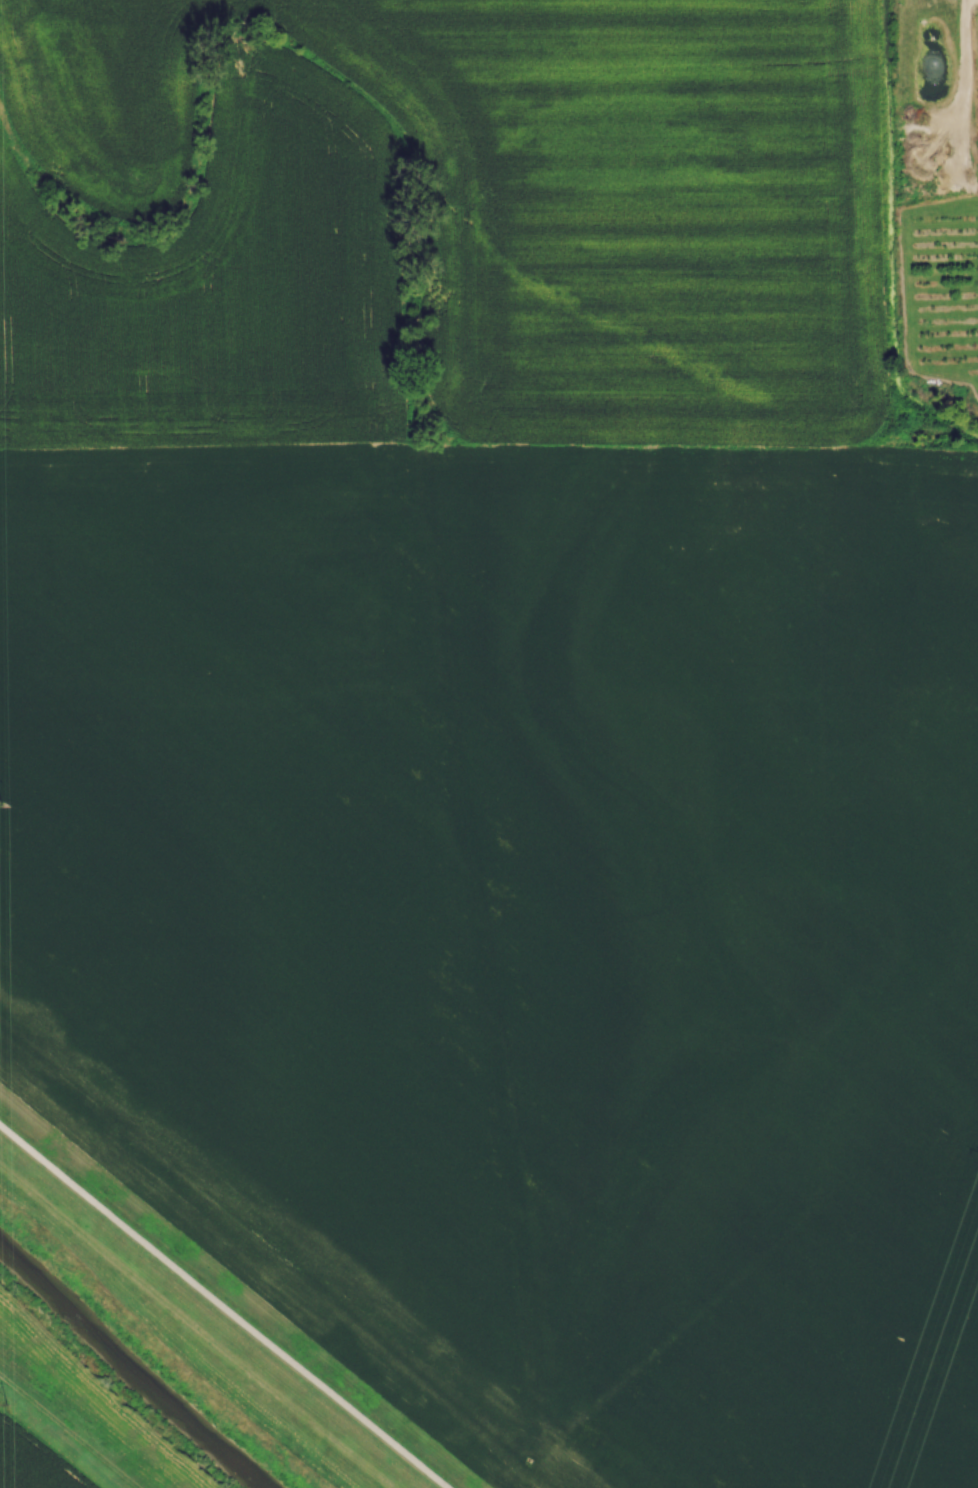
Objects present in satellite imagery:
power tower: (0, 74)
crop: (438, 221)
road: (224, 1305)
river: (126, 1369)
power tower: (10, 1396)
road: (69, 1430)
crop: (33, 1461)

